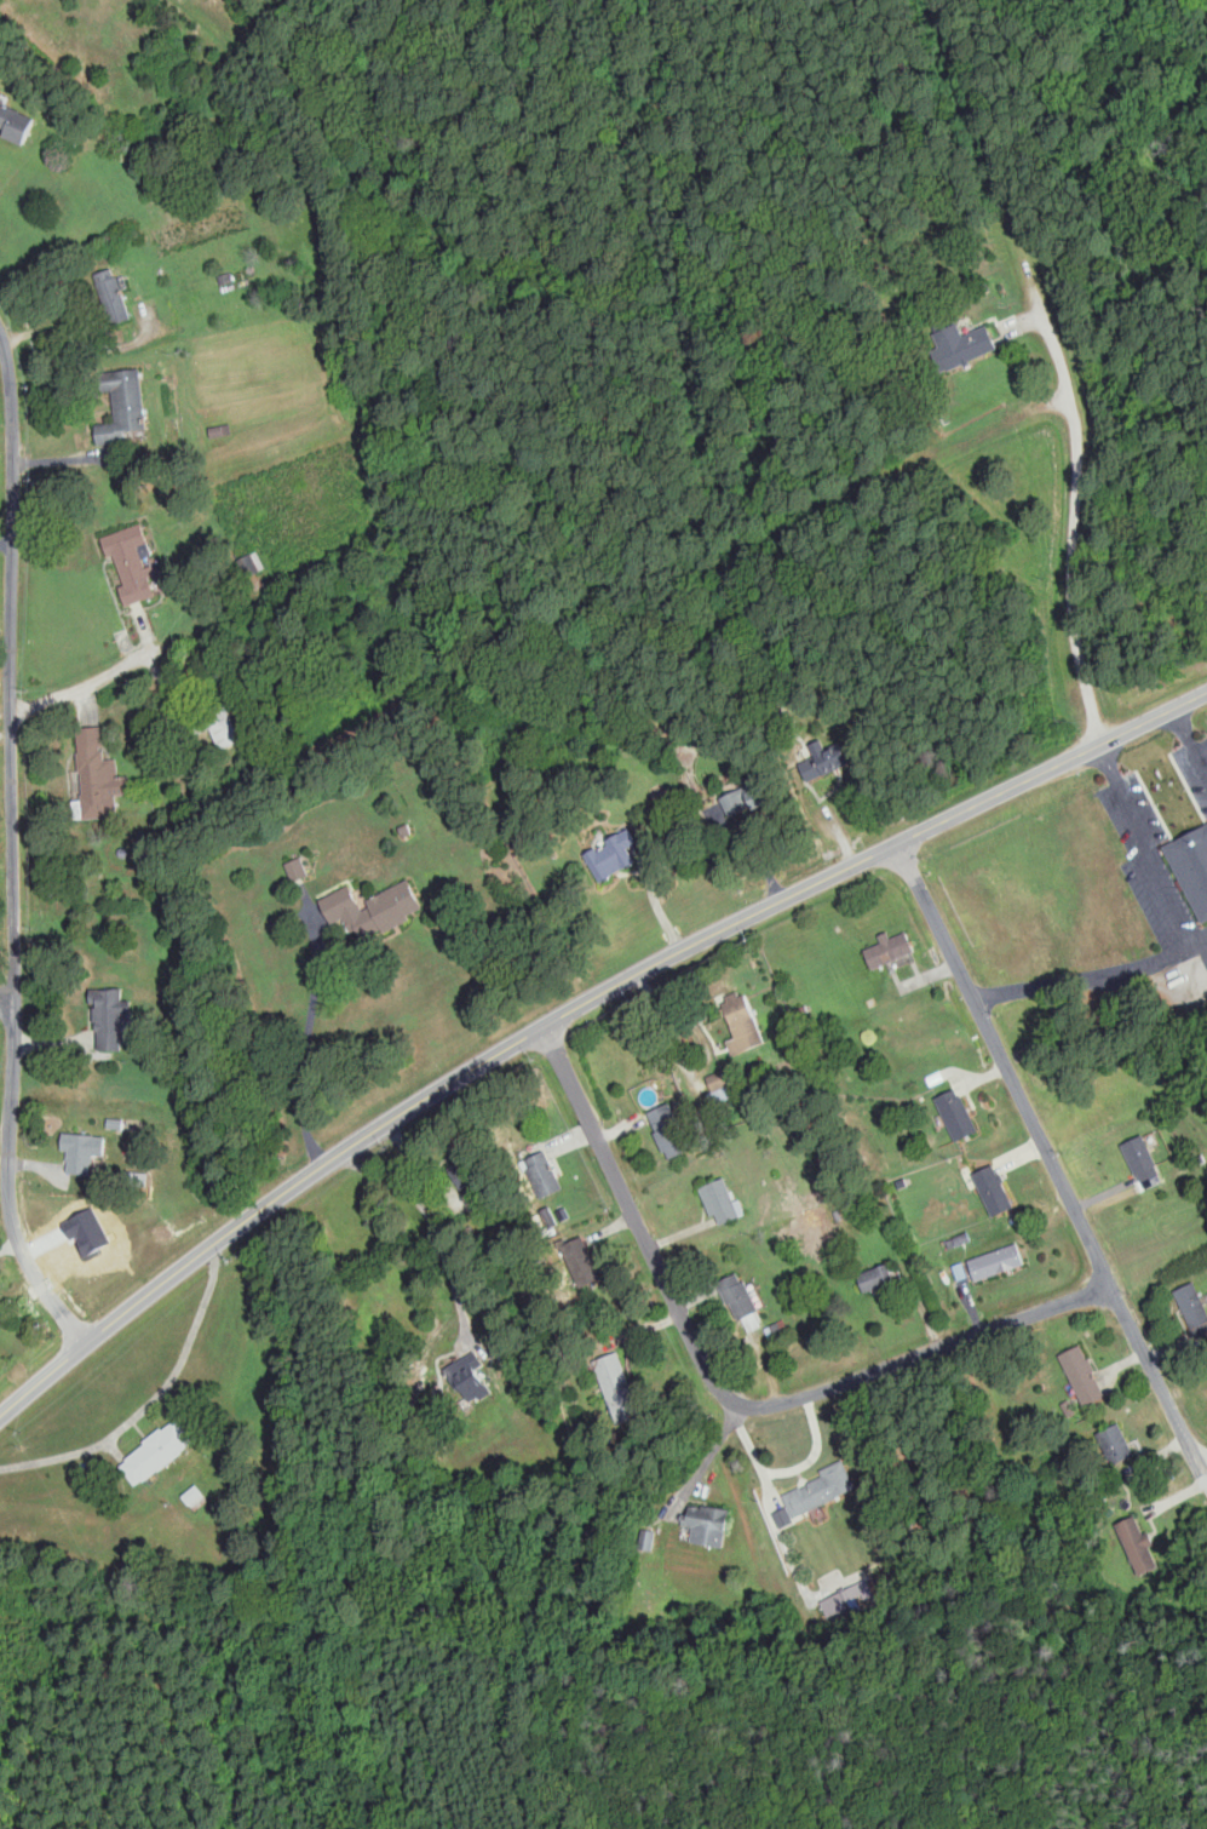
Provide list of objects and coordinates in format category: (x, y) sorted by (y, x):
building: (13, 121)
road: (977, 128)
building: (111, 297)
building: (960, 346)
building: (123, 408)
road: (1076, 499)
building: (131, 562)
building: (252, 563)
road: (93, 678)
road: (1153, 715)
building: (215, 722)
road: (1189, 740)
building: (822, 759)
building: (97, 773)
building: (755, 791)
building: (735, 801)
road: (12, 848)
building: (611, 856)
building: (1188, 864)
building: (295, 867)
building: (368, 906)
building: (889, 947)
road: (1195, 948)
road: (7, 990)
building: (108, 1016)
building: (741, 1022)
road: (523, 1036)
building: (718, 1086)
building: (956, 1114)
building: (668, 1130)
building: (80, 1151)
road: (1046, 1154)
building: (1142, 1158)
building: (469, 1169)
building: (542, 1174)
building: (994, 1189)
building: (719, 1200)
road: (638, 1219)
road: (435, 1223)
building: (581, 1261)
building: (996, 1262)
building: (876, 1279)
building: (738, 1296)
building: (1194, 1308)
road: (926, 1348)
building: (517, 1369)
building: (469, 1375)
building: (1082, 1376)
building: (615, 1386)
road: (150, 1400)
building: (1114, 1445)
building: (155, 1449)
road: (714, 1454)
building: (820, 1487)
building: (194, 1496)
building: (707, 1521)
building: (646, 1538)
building: (1138, 1546)
building: (847, 1596)

